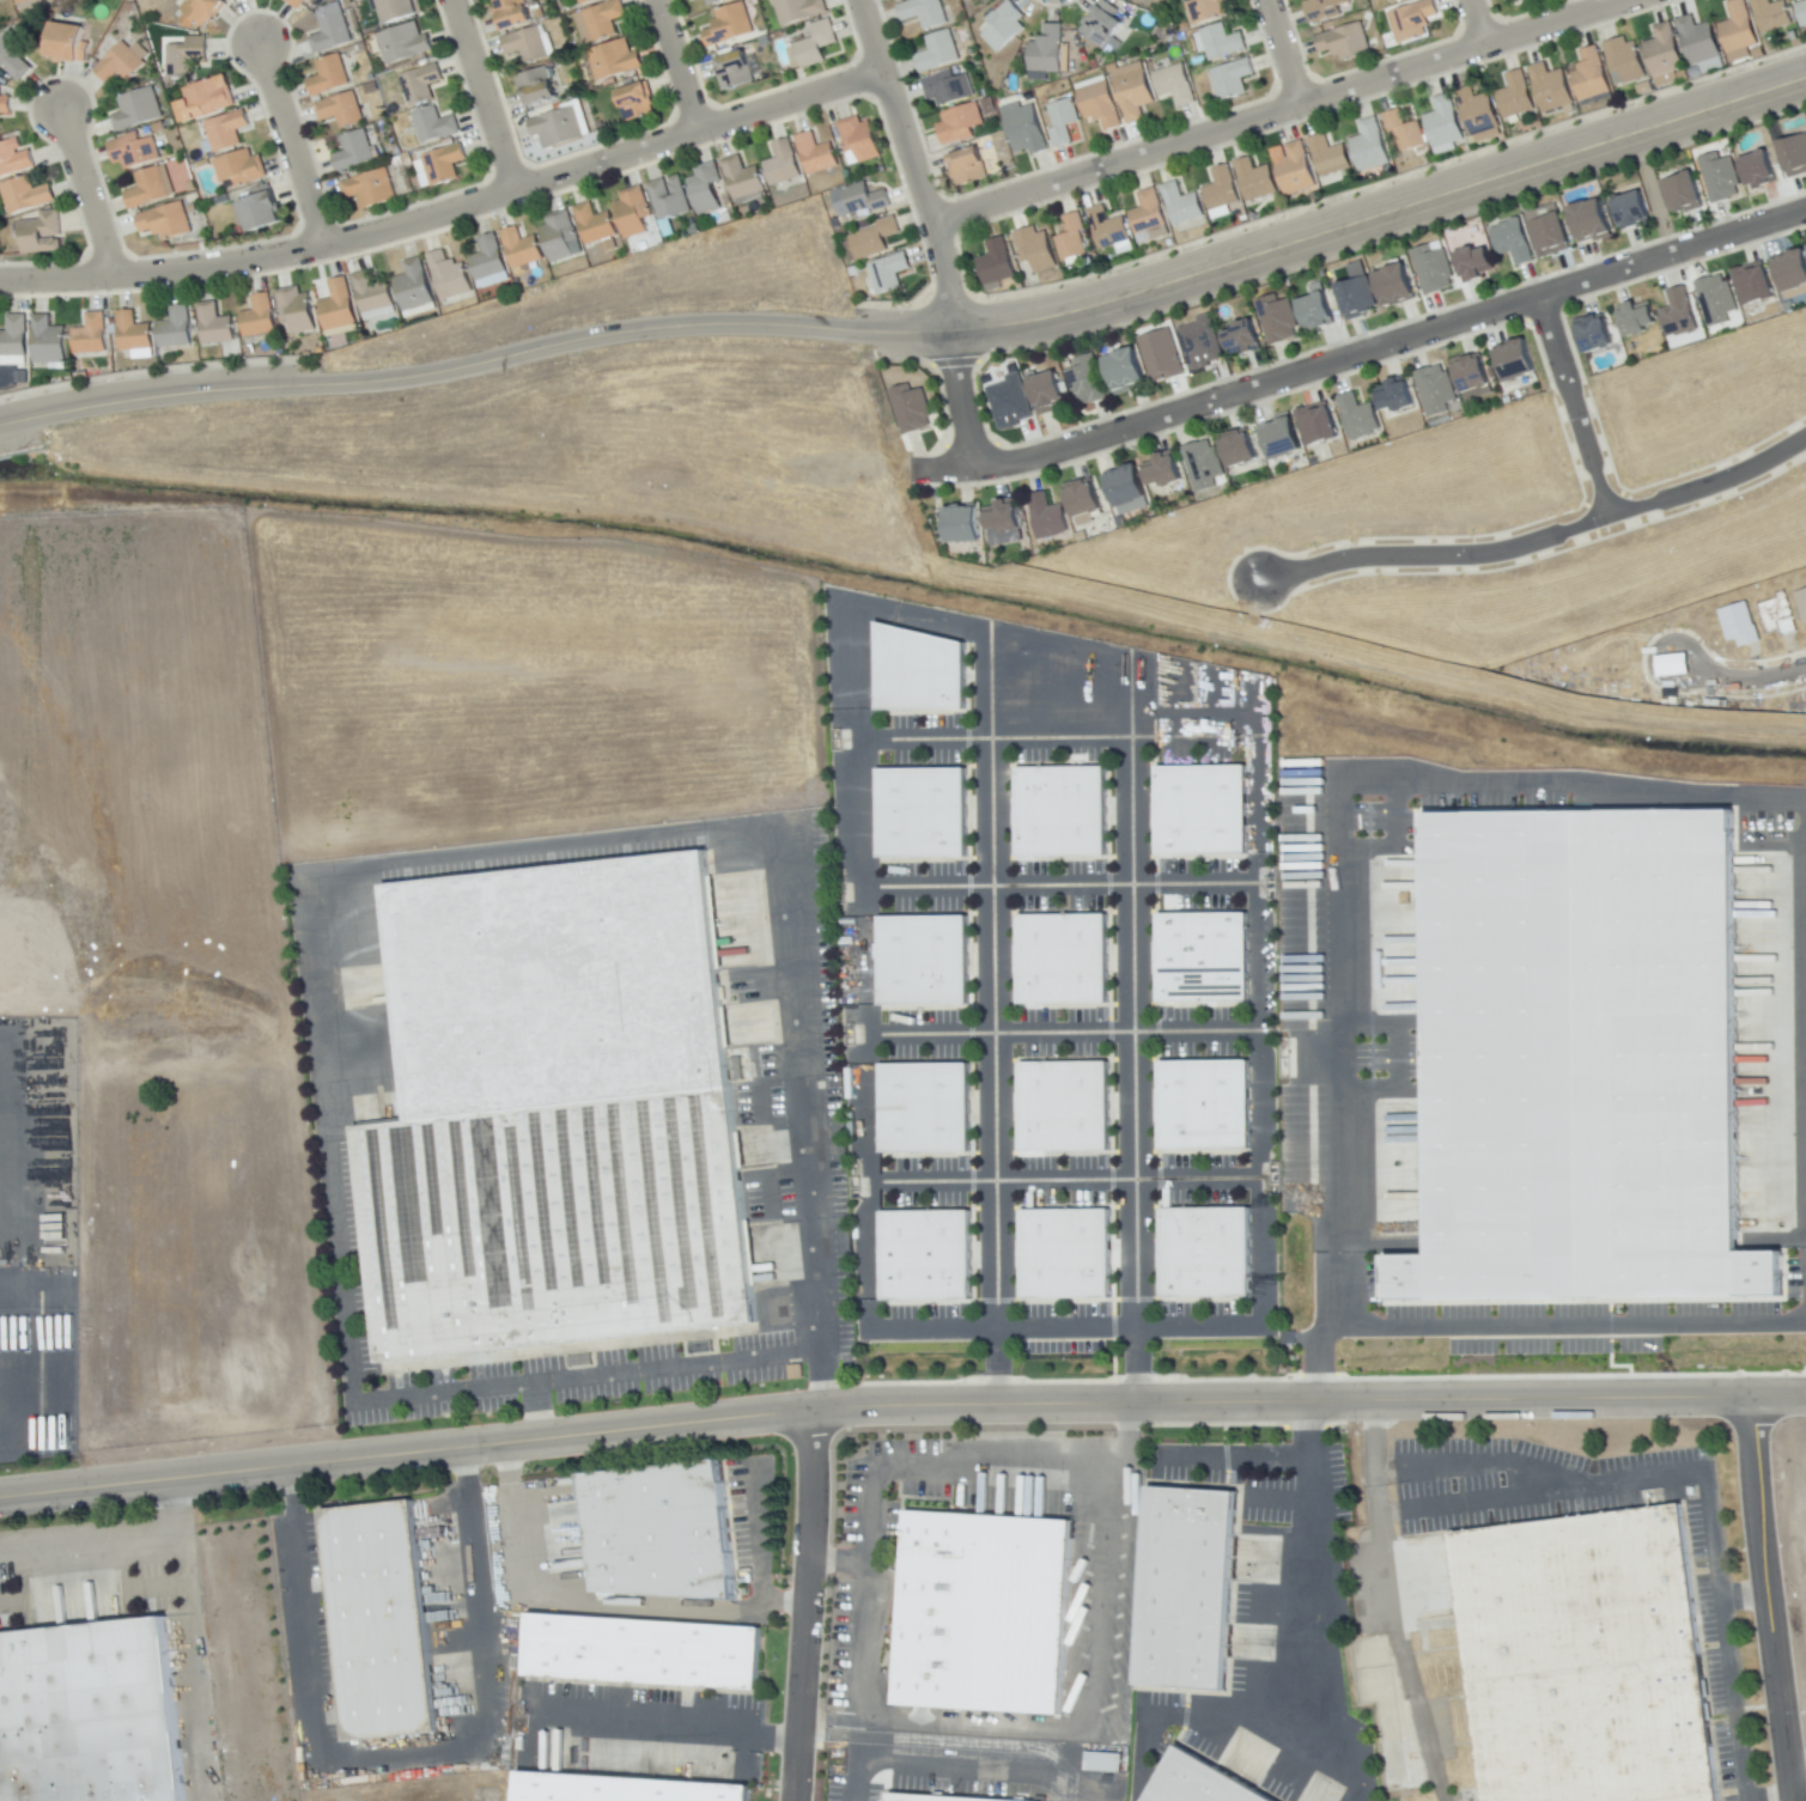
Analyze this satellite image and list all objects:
building: (969, 0)
building: (1392, 0)
building: (1525, 0)
building: (22, 1)
building: (1145, 1)
building: (1398, 1)
building: (1533, 1)
building: (586, 2)
building: (716, 2)
building: (296, 4)
building: (397, 10)
building: (798, 10)
building: (1324, 10)
building: (1206, 11)
building: (1802, 12)
building: (199, 13)
building: (923, 13)
building: (510, 14)
building: (1771, 16)
building: (602, 20)
building: (1412, 22)
road: (1478, 23)
building: (728, 25)
building: (1103, 25)
building: (1004, 26)
building: (1739, 29)
building: (332, 34)
building: (1698, 42)
building: (1221, 43)
building: (1345, 43)
building: (405, 44)
building: (816, 44)
building: (525, 45)
building: (66, 47)
building: (1047, 50)
building: (937, 53)
road: (1284, 53)
building: (1665, 53)
building: (13, 55)
building: (186, 57)
building: (1625, 60)
building: (613, 61)
building: (122, 62)
road: (679, 66)
building: (734, 72)
building: (1592, 77)
building: (328, 78)
building: (1232, 79)
building: (420, 84)
building: (1174, 86)
building: (536, 89)
building: (947, 89)
building: (1551, 89)
road: (484, 95)
building: (1133, 95)
building: (1515, 97)
building: (208, 98)
building: (634, 103)
building: (5, 105)
building: (1100, 107)
building: (136, 110)
building: (340, 110)
road: (1281, 111)
building: (1478, 114)
building: (1063, 122)
building: (959, 124)
building: (434, 126)
building: (1443, 127)
building: (557, 128)
building: (1026, 132)
building: (1404, 132)
building: (223, 134)
building: (859, 139)
road: (293, 145)
building: (1369, 147)
building: (133, 152)
building: (353, 152)
building: (816, 154)
building: (1328, 157)
building: (1795, 157)
building: (13, 159)
building: (444, 165)
building: (782, 165)
building: (968, 169)
building: (239, 170)
building: (1294, 171)
building: (1759, 172)
building: (1720, 178)
building: (742, 180)
building: (1257, 182)
building: (705, 188)
building: (150, 189)
building: (370, 189)
building: (1222, 190)
road: (86, 194)
building: (1683, 195)
building: (25, 196)
building: (669, 199)
building: (865, 199)
building: (1181, 205)
road: (449, 211)
building: (633, 212)
building: (1631, 212)
building: (257, 213)
building: (1148, 214)
building: (165, 223)
building: (1592, 224)
building: (595, 225)
road: (1342, 227)
building: (1108, 229)
road: (936, 230)
building: (41, 235)
building: (559, 237)
building: (1552, 237)
building: (1072, 238)
building: (874, 241)
building: (1513, 242)
building: (521, 249)
building: (1036, 250)
building: (487, 260)
building: (997, 264)
building: (1474, 266)
building: (1433, 270)
building: (889, 274)
building: (1792, 274)
building: (449, 278)
building: (1755, 285)
building: (414, 287)
building: (1397, 290)
building: (371, 293)
building: (1358, 300)
building: (1717, 300)
building: (338, 308)
building: (297, 310)
building: (1679, 314)
building: (1318, 315)
building: (259, 316)
building: (1279, 321)
building: (1638, 323)
building: (215, 325)
building: (177, 329)
building: (130, 333)
building: (90, 336)
road: (592, 336)
building: (1595, 336)
building: (13, 337)
building: (1242, 340)
building: (1198, 341)
building: (47, 342)
road: (1362, 353)
building: (1159, 354)
building: (1516, 364)
building: (1125, 373)
building: (1473, 379)
building: (1087, 383)
building: (1437, 391)
road: (176, 395)
building: (1047, 395)
building: (1397, 398)
building: (1008, 401)
road: (1573, 402)
building: (911, 410)
building: (1360, 419)
road: (18, 421)
building: (1319, 427)
building: (1283, 444)
building: (1240, 455)
building: (1204, 467)
building: (1165, 477)
building: (1126, 492)
building: (1084, 505)
building: (1047, 519)
building: (962, 527)
building: (1003, 527)
road: (1540, 539)
building: (1801, 602)
building: (1774, 614)
building: (1737, 623)
building: (1670, 664)
building: (918, 671)
road: (1738, 680)
road: (920, 738)
building: (1205, 809)
building: (925, 811)
building: (1065, 811)
road: (1334, 820)
road: (300, 878)
road: (1194, 883)
road: (993, 884)
building: (926, 957)
building: (1066, 957)
building: (1204, 957)
road: (990, 984)
road: (857, 994)
road: (1257, 1029)
road: (1131, 1030)
road: (1058, 1033)
building: (1579, 1059)
building: (1206, 1102)
building: (1068, 1105)
building: (929, 1107)
building: (549, 1113)
road: (1060, 1179)
building: (1209, 1251)
building: (930, 1253)
building: (1069, 1253)
road: (1526, 1322)
road: (1135, 1363)
road: (826, 1377)
road: (900, 1406)
road: (535, 1412)
road: (1630, 1471)
building: (650, 1526)
road: (759, 1534)
road: (87, 1538)
road: (1307, 1564)
building: (1182, 1583)
road: (1770, 1599)
road: (592, 1604)
road: (1387, 1604)
road: (808, 1606)
building: (977, 1607)
building: (369, 1612)
road: (187, 1639)
building: (632, 1647)
building: (1580, 1657)
building: (83, 1711)
road: (889, 1716)
road: (1733, 1722)
road: (663, 1732)
road: (953, 1758)
road: (397, 1759)
road: (1799, 1773)
building: (1190, 1781)
building: (614, 1785)
building: (942, 1796)

